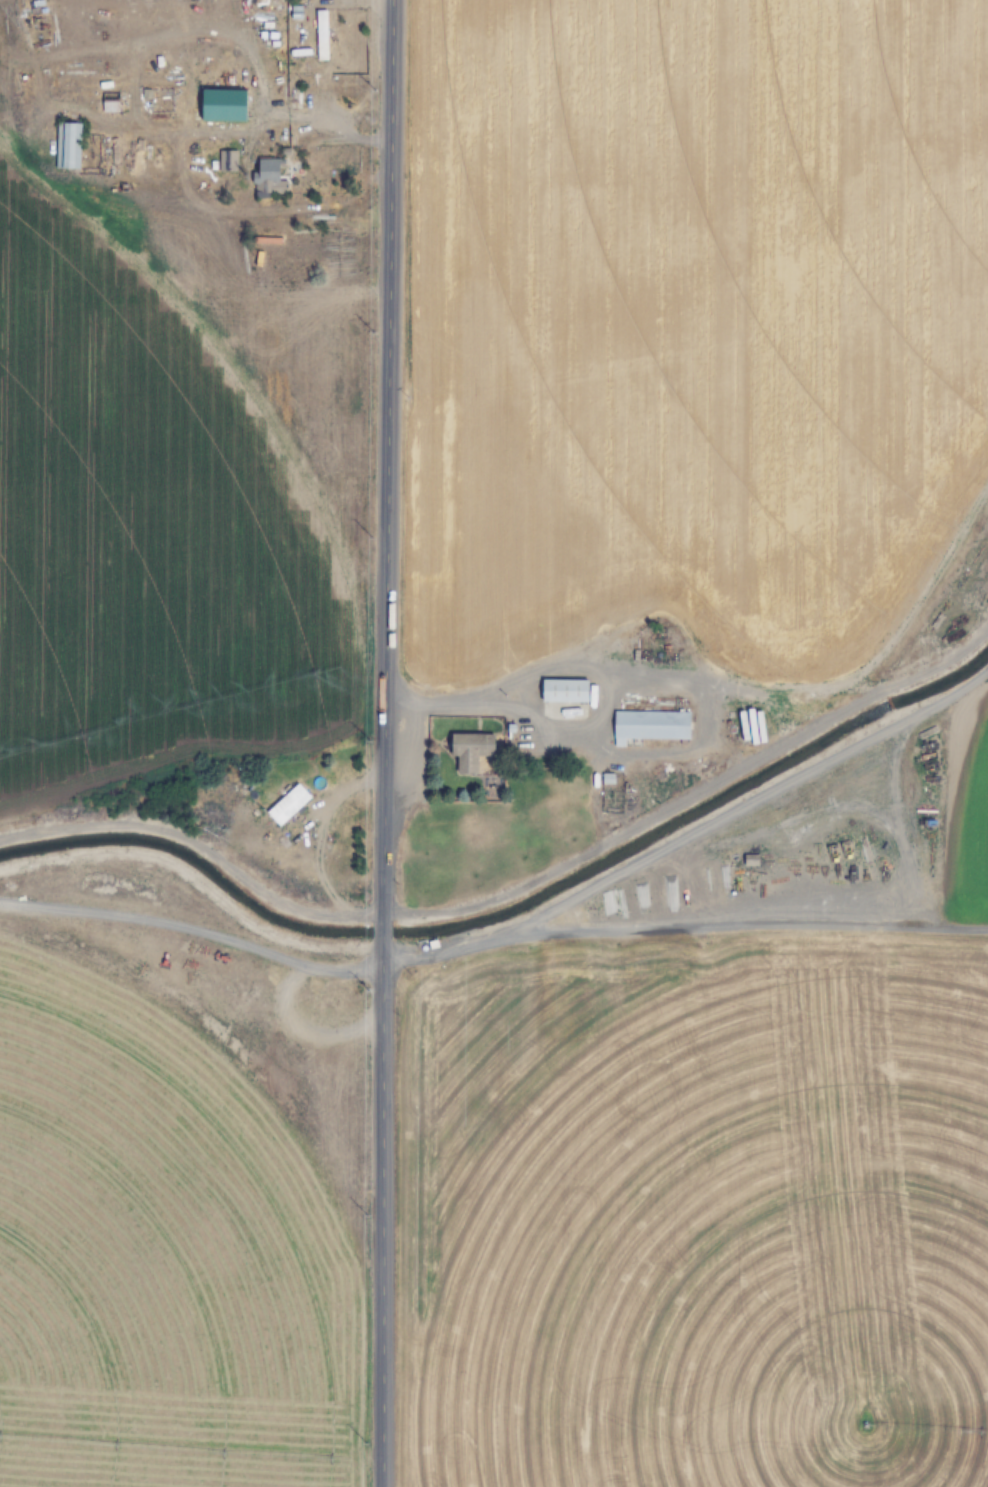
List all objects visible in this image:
building: (322, 35)
building: (7, 42)
building: (110, 103)
building: (68, 146)
building: (228, 161)
building: (271, 177)
road: (389, 461)
building: (565, 690)
building: (651, 727)
building: (472, 750)
building: (288, 805)
road: (384, 930)
road: (382, 1211)

